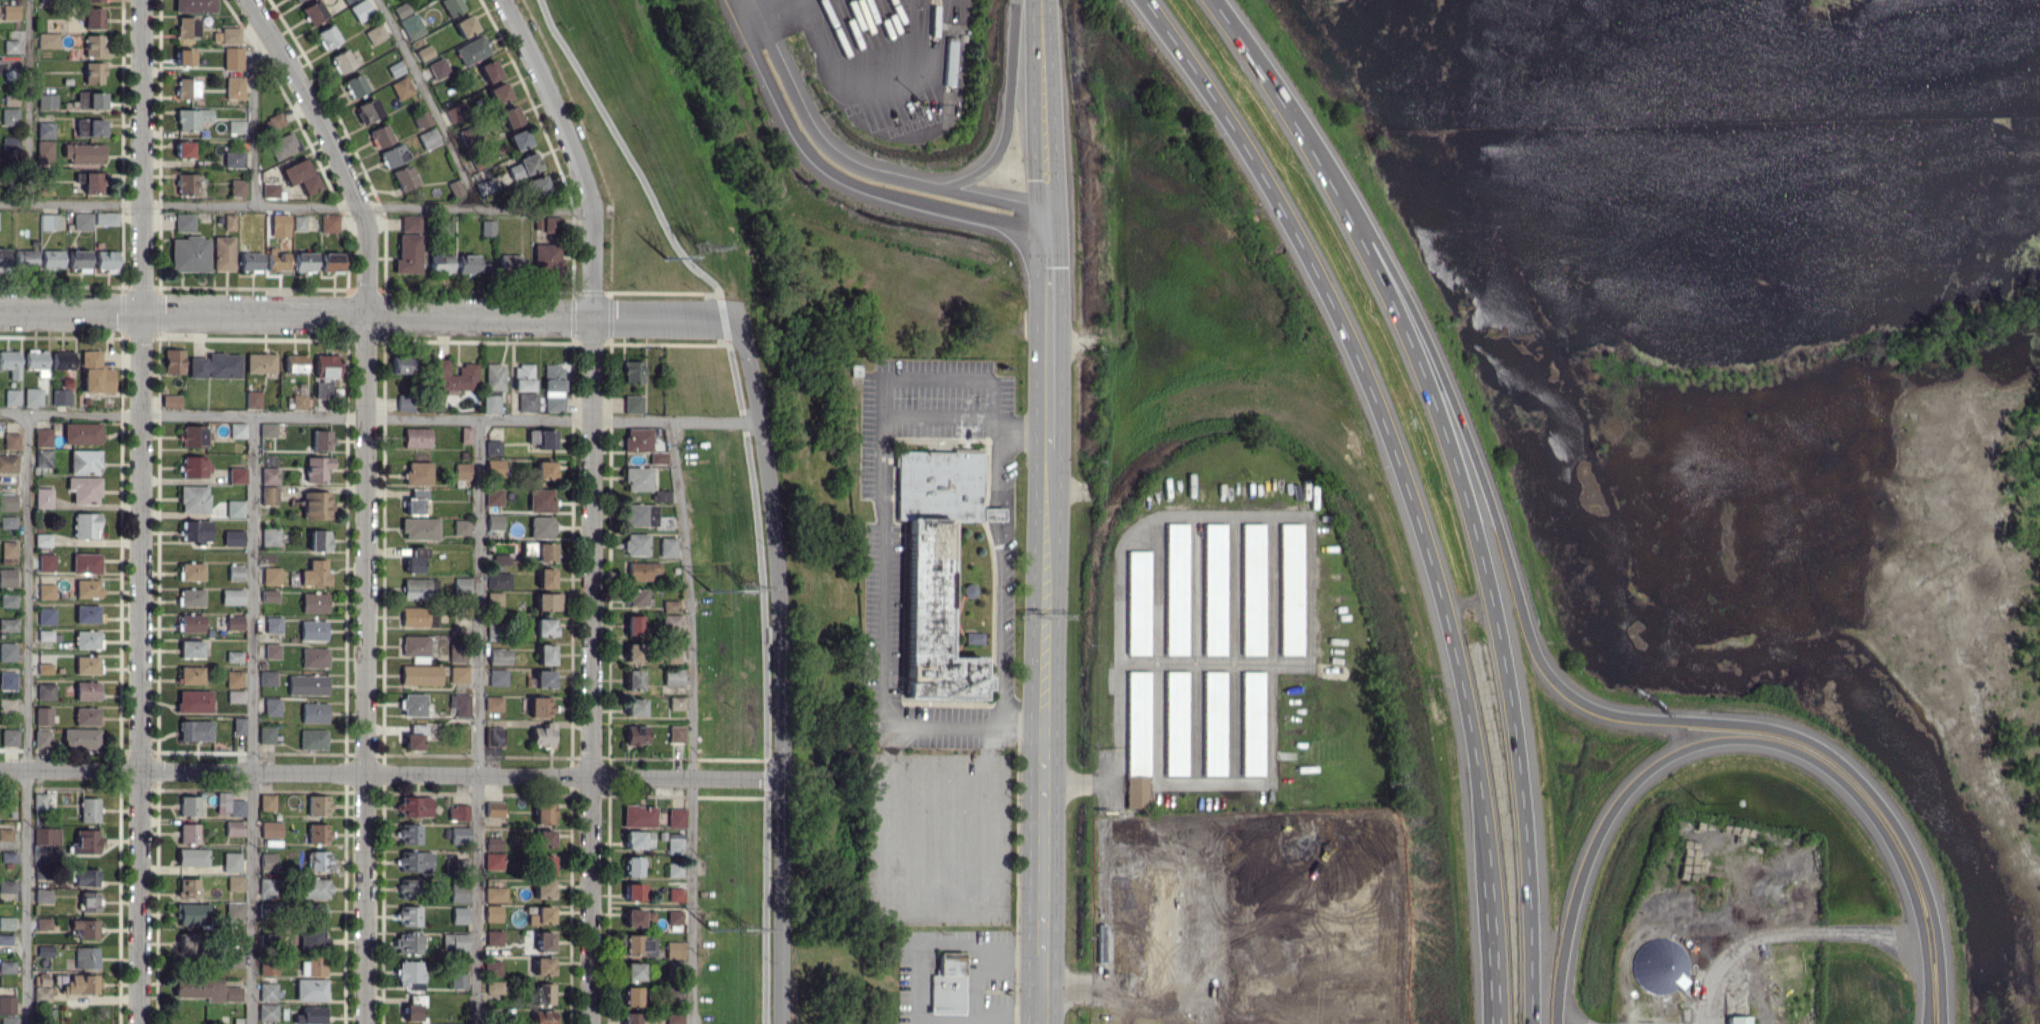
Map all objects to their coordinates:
building: (92, 0)
building: (296, 0)
building: (345, 0)
building: (194, 6)
building: (451, 6)
building: (401, 9)
building: (360, 10)
building: (11, 12)
building: (313, 12)
building: (93, 18)
building: (464, 25)
building: (411, 26)
building: (186, 27)
building: (375, 33)
building: (230, 35)
building: (327, 36)
building: (47, 40)
building: (94, 45)
building: (11, 46)
building: (471, 50)
building: (424, 52)
building: (184, 57)
building: (233, 58)
building: (342, 61)
building: (951, 62)
building: (395, 68)
building: (438, 68)
building: (488, 70)
building: (93, 72)
road: (894, 83)
building: (355, 85)
building: (234, 87)
building: (401, 87)
building: (185, 89)
building: (498, 92)
building: (90, 100)
building: (47, 101)
road: (26, 103)
road: (429, 103)
building: (368, 109)
building: (453, 112)
road: (252, 115)
building: (10, 116)
building: (510, 116)
building: (191, 118)
building: (421, 120)
building: (274, 121)
building: (236, 126)
building: (89, 127)
building: (45, 130)
building: (469, 135)
building: (379, 136)
building: (428, 138)
building: (518, 139)
building: (10, 145)
building: (283, 145)
road: (625, 148)
building: (183, 149)
road: (329, 150)
building: (44, 151)
building: (82, 153)
road: (575, 153)
building: (393, 155)
building: (233, 159)
building: (523, 165)
building: (301, 175)
building: (403, 177)
road: (845, 177)
building: (92, 182)
road: (931, 182)
building: (185, 184)
building: (485, 186)
building: (535, 186)
building: (237, 187)
building: (270, 190)
road: (298, 208)
building: (106, 218)
building: (49, 221)
building: (81, 221)
building: (229, 221)
building: (184, 222)
building: (299, 222)
building: (329, 223)
building: (410, 223)
building: (280, 225)
building: (547, 225)
building: (487, 227)
traffic signals: (1048, 239)
power tower: (702, 245)
building: (223, 253)
building: (408, 253)
building: (189, 254)
building: (3, 257)
building: (546, 257)
building: (24, 258)
building: (51, 258)
power tower: (668, 259)
building: (78, 260)
building: (106, 260)
building: (250, 261)
building: (277, 261)
building: (304, 261)
building: (332, 262)
building: (441, 262)
building: (469, 264)
building: (509, 264)
road: (369, 316)
road: (723, 318)
road: (1047, 358)
building: (62, 360)
building: (36, 361)
building: (172, 361)
building: (10, 362)
building: (260, 362)
building: (295, 363)
building: (402, 365)
building: (215, 366)
building: (632, 371)
building: (95, 373)
building: (325, 373)
building: (455, 376)
building: (494, 376)
building: (523, 377)
road: (944, 378)
building: (554, 385)
building: (32, 396)
building: (11, 397)
building: (60, 397)
building: (252, 399)
building: (170, 400)
building: (299, 401)
building: (405, 402)
building: (527, 402)
building: (491, 403)
building: (632, 404)
road: (1379, 413)
road: (378, 417)
building: (237, 430)
building: (268, 430)
building: (81, 433)
building: (465, 434)
building: (193, 436)
building: (42, 437)
building: (416, 437)
building: (546, 439)
building: (637, 439)
building: (321, 440)
building: (11, 441)
building: (493, 447)
building: (658, 457)
building: (43, 458)
building: (84, 462)
building: (8, 463)
road: (999, 463)
building: (193, 467)
building: (495, 467)
building: (317, 468)
building: (544, 469)
building: (461, 471)
building: (418, 473)
building: (236, 475)
building: (269, 475)
building: (637, 478)
road: (1460, 484)
building: (84, 489)
building: (268, 495)
building: (661, 496)
building: (493, 497)
building: (43, 498)
building: (193, 499)
building: (415, 501)
building: (540, 501)
building: (7, 502)
building: (316, 505)
building: (234, 508)
road: (138, 512)
road: (996, 513)
building: (640, 515)
building: (7, 521)
building: (494, 522)
building: (85, 525)
building: (461, 527)
building: (541, 527)
building: (419, 529)
building: (194, 531)
building: (270, 536)
building: (233, 538)
building: (42, 539)
building: (319, 540)
building: (636, 544)
building: (667, 546)
road: (774, 549)
road: (1309, 550)
building: (7, 551)
road: (759, 551)
building: (544, 552)
building: (504, 559)
building: (414, 560)
building: (46, 562)
building: (85, 563)
building: (933, 564)
building: (641, 570)
building: (191, 571)
building: (235, 572)
building: (315, 573)
building: (271, 575)
building: (7, 577)
building: (545, 578)
building: (498, 580)
building: (461, 584)
power tower: (749, 586)
building: (88, 588)
building: (418, 588)
building: (1176, 589)
building: (1214, 589)
building: (1252, 589)
building: (1291, 589)
building: (46, 591)
power tower: (710, 591)
building: (268, 595)
building: (231, 596)
building: (190, 597)
building: (635, 597)
building: (8, 600)
building: (494, 600)
building: (547, 601)
building: (314, 602)
building: (1137, 602)
building: (671, 605)
building: (86, 614)
building: (46, 616)
building: (414, 616)
road: (1000, 620)
building: (234, 622)
building: (671, 622)
building: (191, 623)
building: (8, 624)
building: (272, 624)
building: (633, 625)
building: (544, 627)
building: (313, 630)
building: (45, 635)
building: (973, 637)
building: (86, 639)
building: (415, 646)
building: (191, 649)
building: (7, 651)
building: (272, 651)
building: (632, 652)
building: (457, 653)
building: (545, 654)
building: (234, 656)
building: (498, 656)
building: (314, 657)
road: (1214, 664)
building: (86, 665)
building: (44, 668)
road: (365, 669)
road: (593, 671)
building: (458, 674)
building: (191, 675)
building: (420, 675)
building: (497, 677)
building: (673, 677)
building: (233, 678)
building: (267, 678)
building: (543, 679)
building: (8, 680)
building: (633, 680)
building: (307, 685)
building: (44, 690)
building: (86, 691)
road: (1568, 692)
road: (884, 694)
building: (235, 696)
building: (194, 701)
building: (676, 702)
building: (493, 703)
building: (413, 704)
building: (460, 704)
building: (8, 706)
building: (271, 706)
building: (539, 707)
building: (634, 707)
building: (314, 713)
building: (42, 716)
building: (86, 716)
road: (28, 718)
road: (251, 719)
road: (1023, 719)
road: (481, 720)
road: (692, 720)
building: (1175, 723)
building: (1213, 723)
building: (1252, 723)
building: (238, 726)
road: (942, 729)
building: (195, 731)
building: (676, 733)
building: (266, 735)
building: (542, 735)
building: (636, 735)
building: (493, 736)
building: (9, 737)
building: (41, 739)
building: (80, 739)
building: (312, 739)
building: (1136, 740)
road: (1716, 740)
building: (412, 742)
road: (393, 776)
road: (767, 777)
building: (39, 800)
building: (266, 802)
building: (229, 805)
building: (317, 805)
building: (188, 806)
building: (414, 807)
building: (494, 809)
building: (88, 810)
building: (458, 812)
building: (544, 813)
building: (638, 816)
building: (676, 817)
building: (232, 828)
building: (270, 829)
building: (188, 833)
building: (317, 833)
building: (5, 834)
building: (409, 834)
building: (459, 835)
building: (47, 836)
building: (544, 838)
building: (636, 840)
building: (87, 842)
building: (492, 843)
building: (674, 845)
building: (8, 856)
building: (191, 857)
building: (231, 861)
building: (268, 861)
building: (317, 861)
building: (415, 861)
building: (493, 861)
building: (544, 865)
building: (456, 866)
building: (633, 866)
building: (674, 870)
road: (1045, 870)
building: (85, 878)
building: (235, 883)
building: (7, 886)
building: (188, 887)
building: (268, 887)
building: (314, 888)
building: (408, 888)
building: (542, 889)
building: (458, 893)
building: (633, 893)
building: (495, 894)
building: (675, 895)
building: (42, 896)
building: (88, 901)
road: (785, 902)
building: (267, 909)
building: (234, 910)
building: (313, 910)
road: (765, 910)
building: (493, 913)
building: (191, 914)
building: (459, 915)
building: (540, 915)
building: (408, 916)
building: (638, 917)
building: (674, 917)
building: (6, 923)
building: (43, 923)
building: (86, 928)
power tower: (748, 928)
power tower: (710, 929)
road: (1784, 934)
building: (493, 938)
building: (5, 939)
building: (313, 939)
building: (454, 941)
building: (544, 941)
building: (188, 943)
building: (408, 943)
building: (638, 945)
building: (673, 948)
road: (1498, 949)
building: (44, 951)
building: (891, 951)
building: (86, 957)
building: (233, 960)
building: (1658, 965)
building: (7, 967)
building: (313, 967)
building: (491, 967)
building: (542, 967)
building: (633, 971)
building: (409, 974)
building: (458, 980)
building: (80, 984)
building: (947, 985)
building: (494, 987)
building: (205, 989)
building: (310, 990)
building: (267, 991)
building: (544, 993)
building: (41, 994)
building: (631, 996)
road: (1924, 1001)
road: (1926, 1001)
building: (7, 1005)
building: (267, 1012)
building: (411, 1012)
building: (542, 1017)
building: (630, 1018)
building: (674, 1019)
building: (1737, 1019)
building: (8, 1020)

